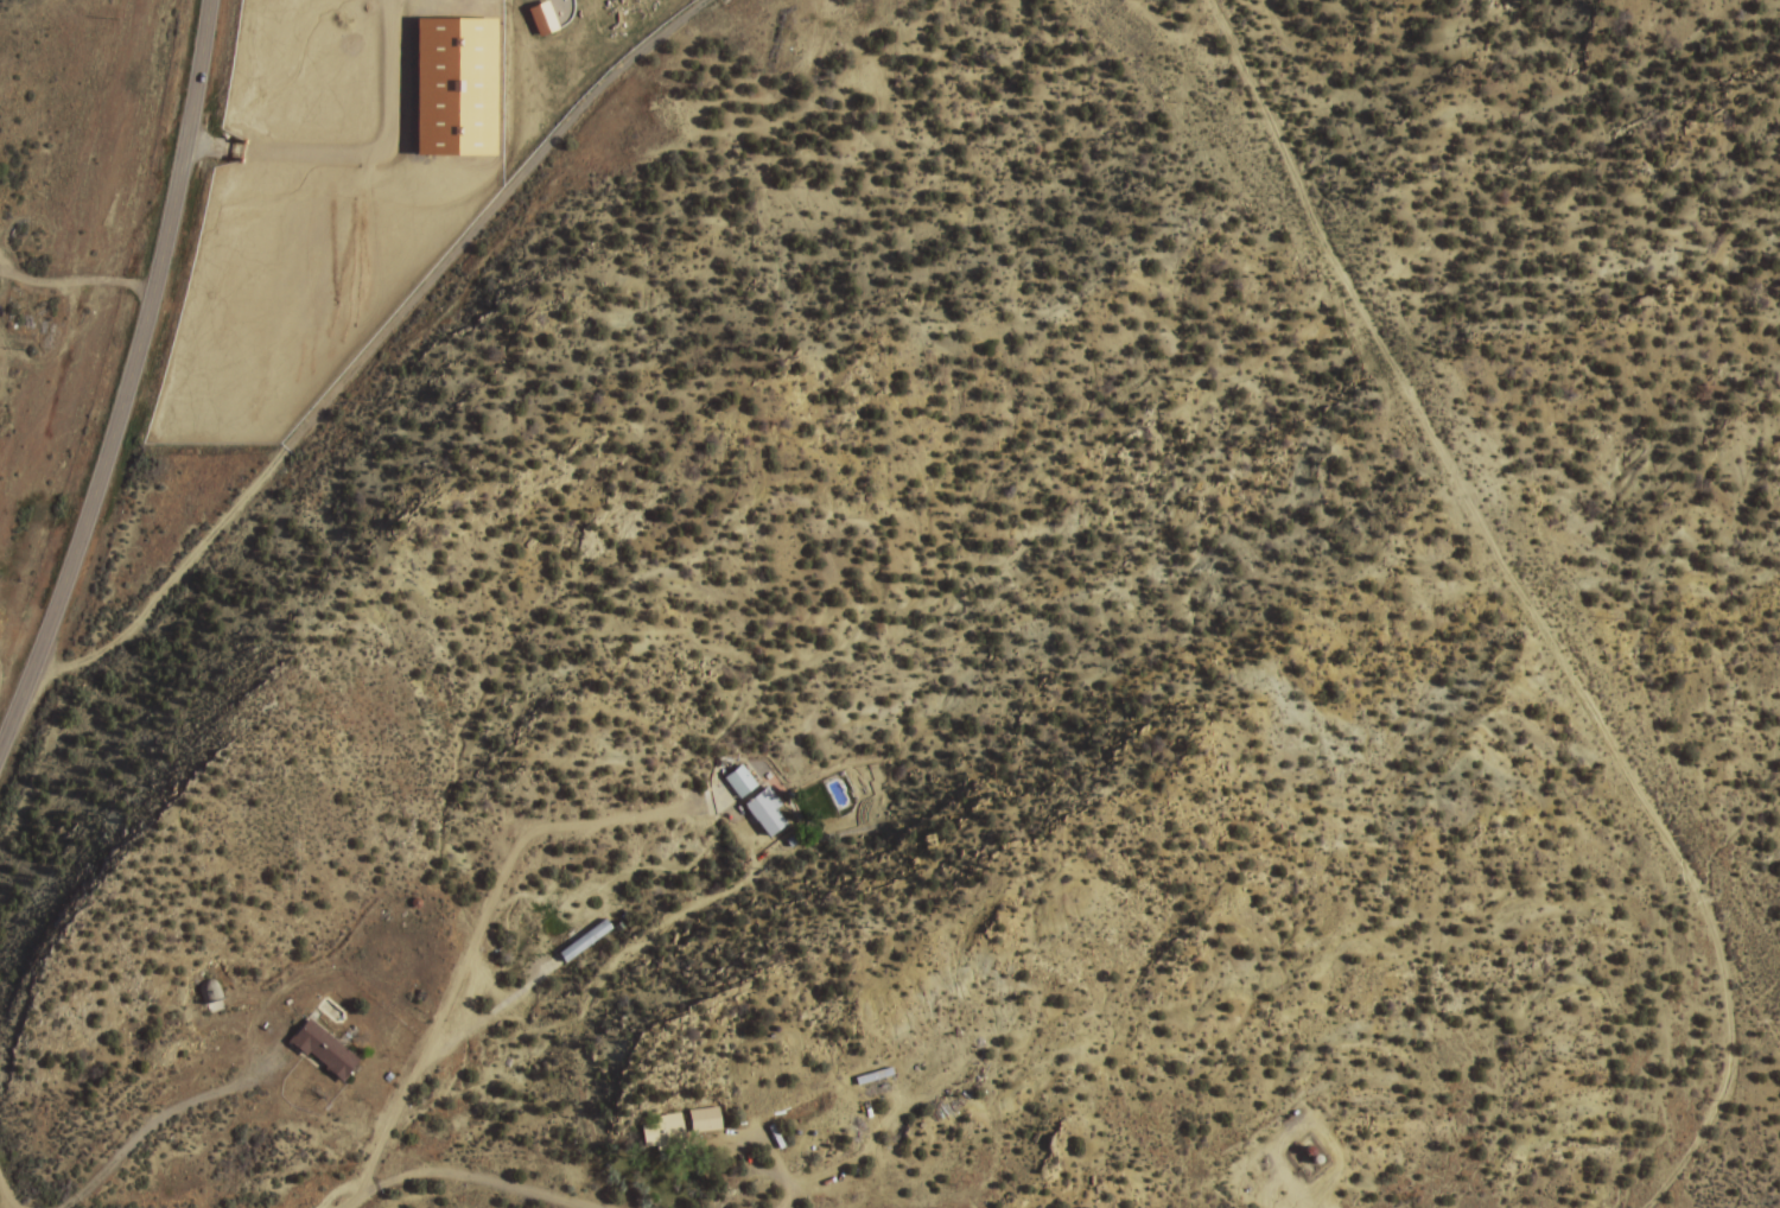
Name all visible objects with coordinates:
road: (644, 45)
road: (127, 380)
road: (324, 407)
road: (1528, 606)
building: (742, 781)
building: (769, 812)
building: (585, 939)
building: (201, 992)
building: (325, 1050)
building: (867, 1075)
building: (704, 1119)
building: (665, 1133)
road: (458, 1168)
road: (11, 1199)

